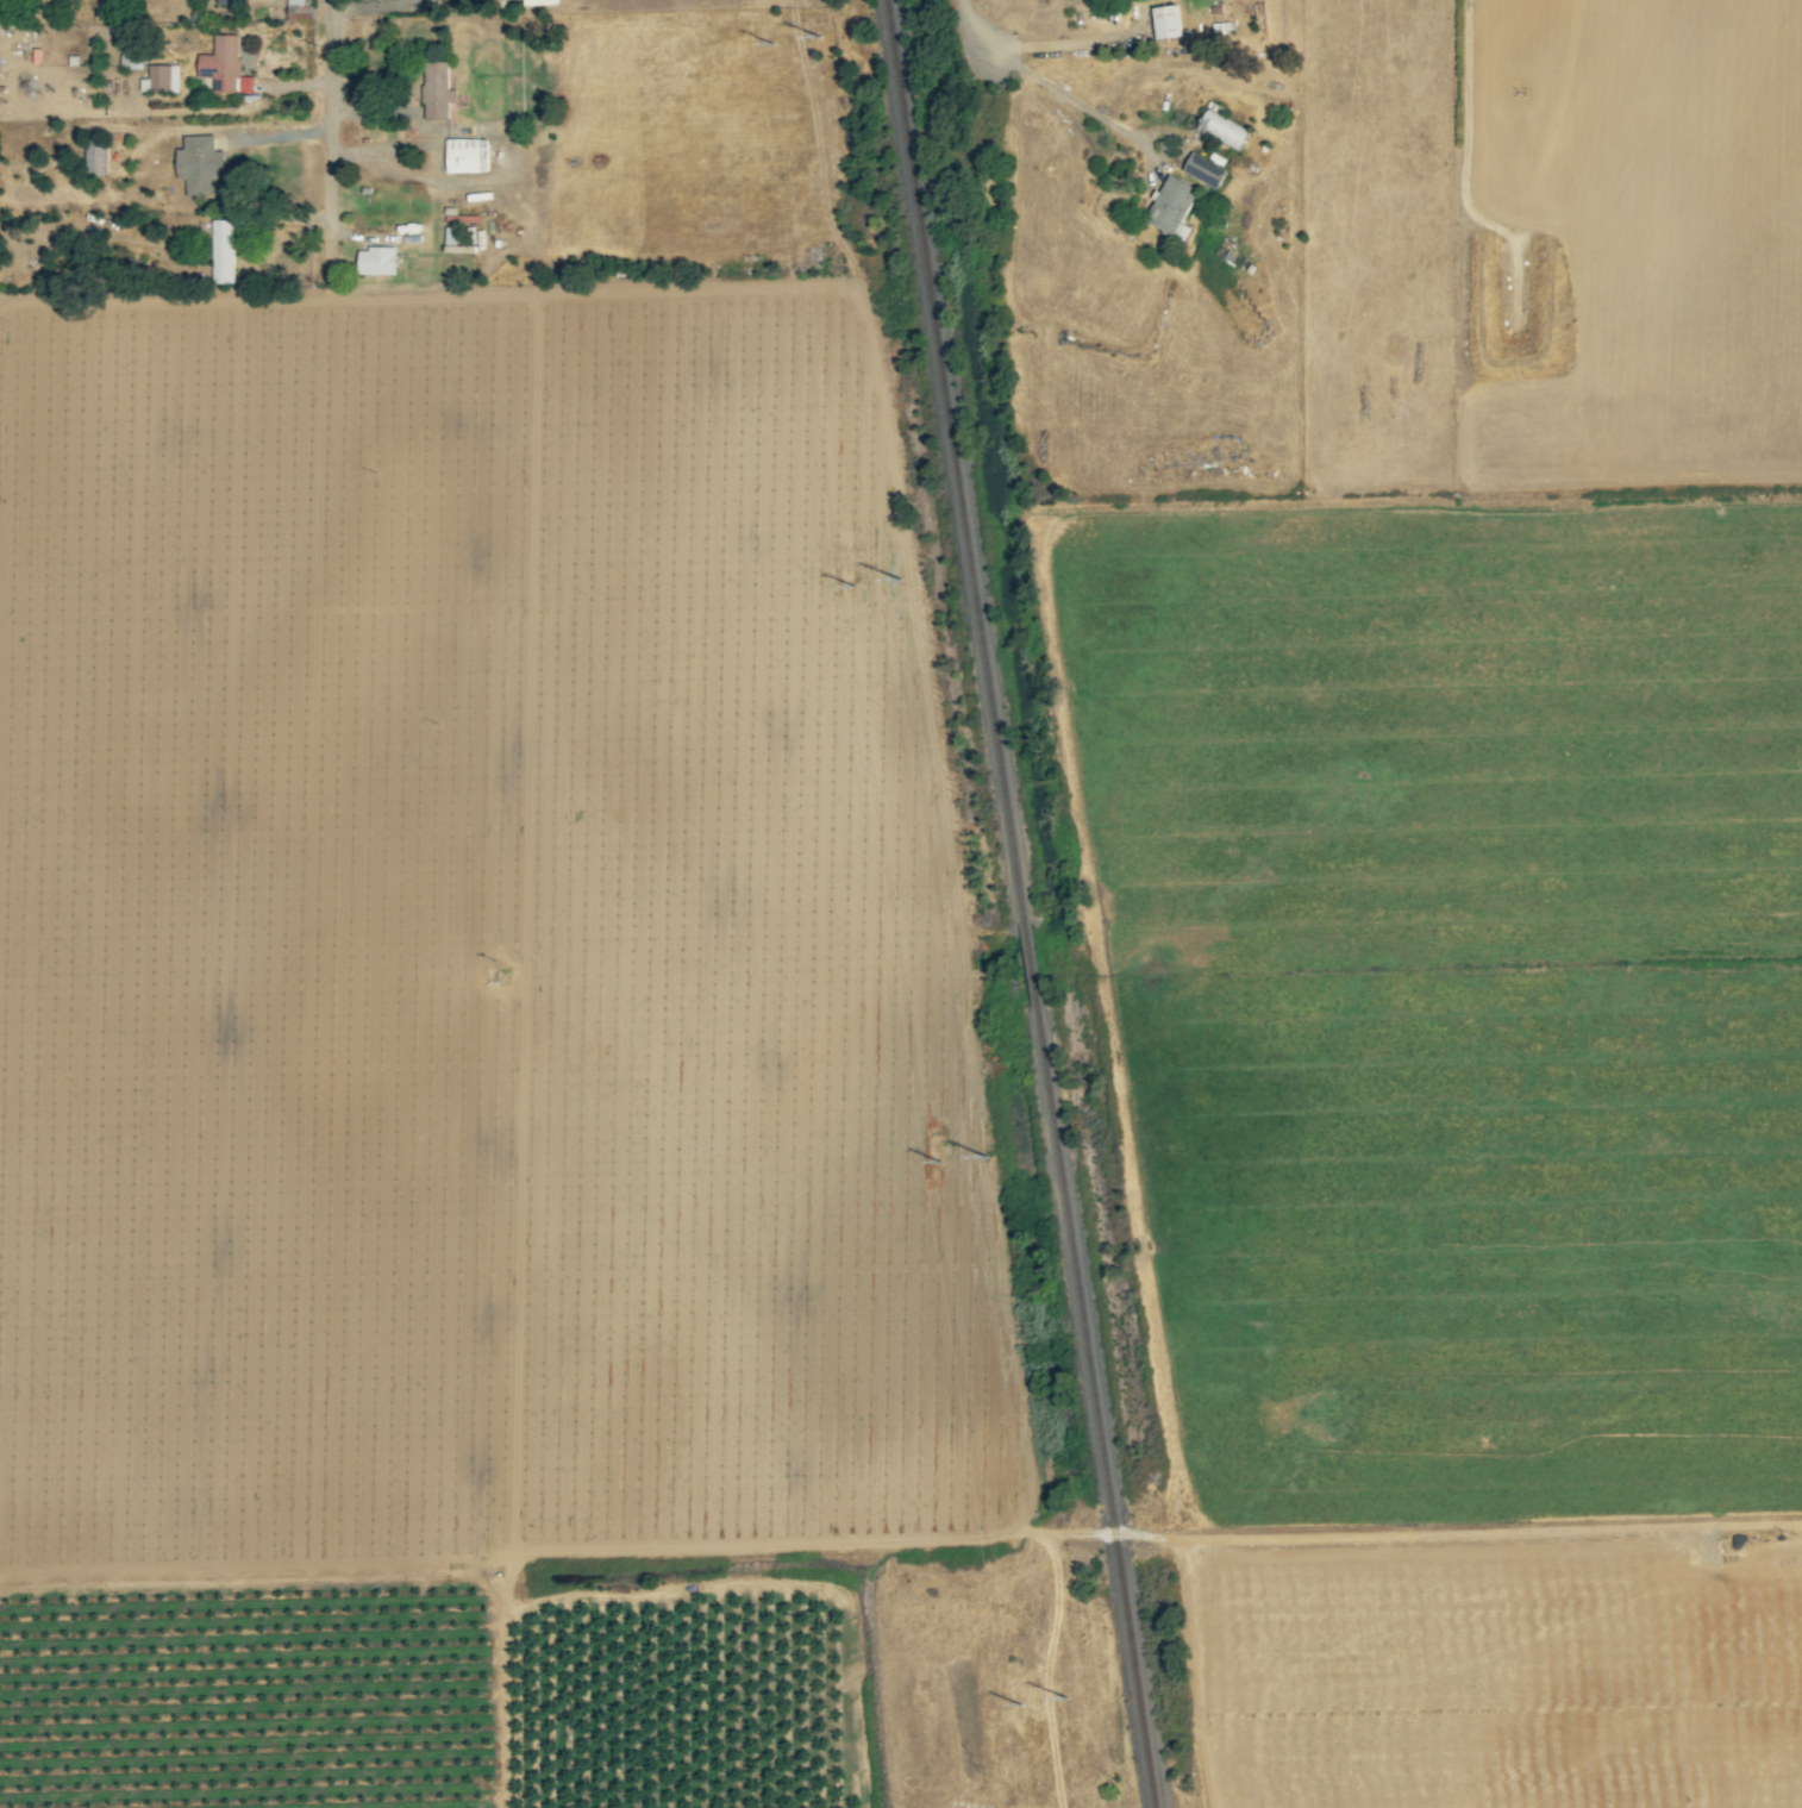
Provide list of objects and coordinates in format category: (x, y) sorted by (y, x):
building: (225, 1)
building: (538, 1)
power tower: (768, 1)
building: (298, 10)
building: (1164, 21)
road: (978, 27)
road: (1066, 43)
building: (224, 65)
road: (1166, 68)
building: (159, 79)
building: (434, 90)
road: (333, 108)
road: (421, 127)
building: (1220, 129)
building: (465, 155)
building: (198, 165)
building: (1205, 168)
building: (1170, 208)
building: (452, 226)
building: (221, 251)
building: (375, 261)
railway: (962, 464)
power tower: (851, 561)
railway: (1035, 969)
power tower: (940, 1146)
railway: (1101, 1407)
road: (1106, 1534)
power tower: (1020, 1688)

